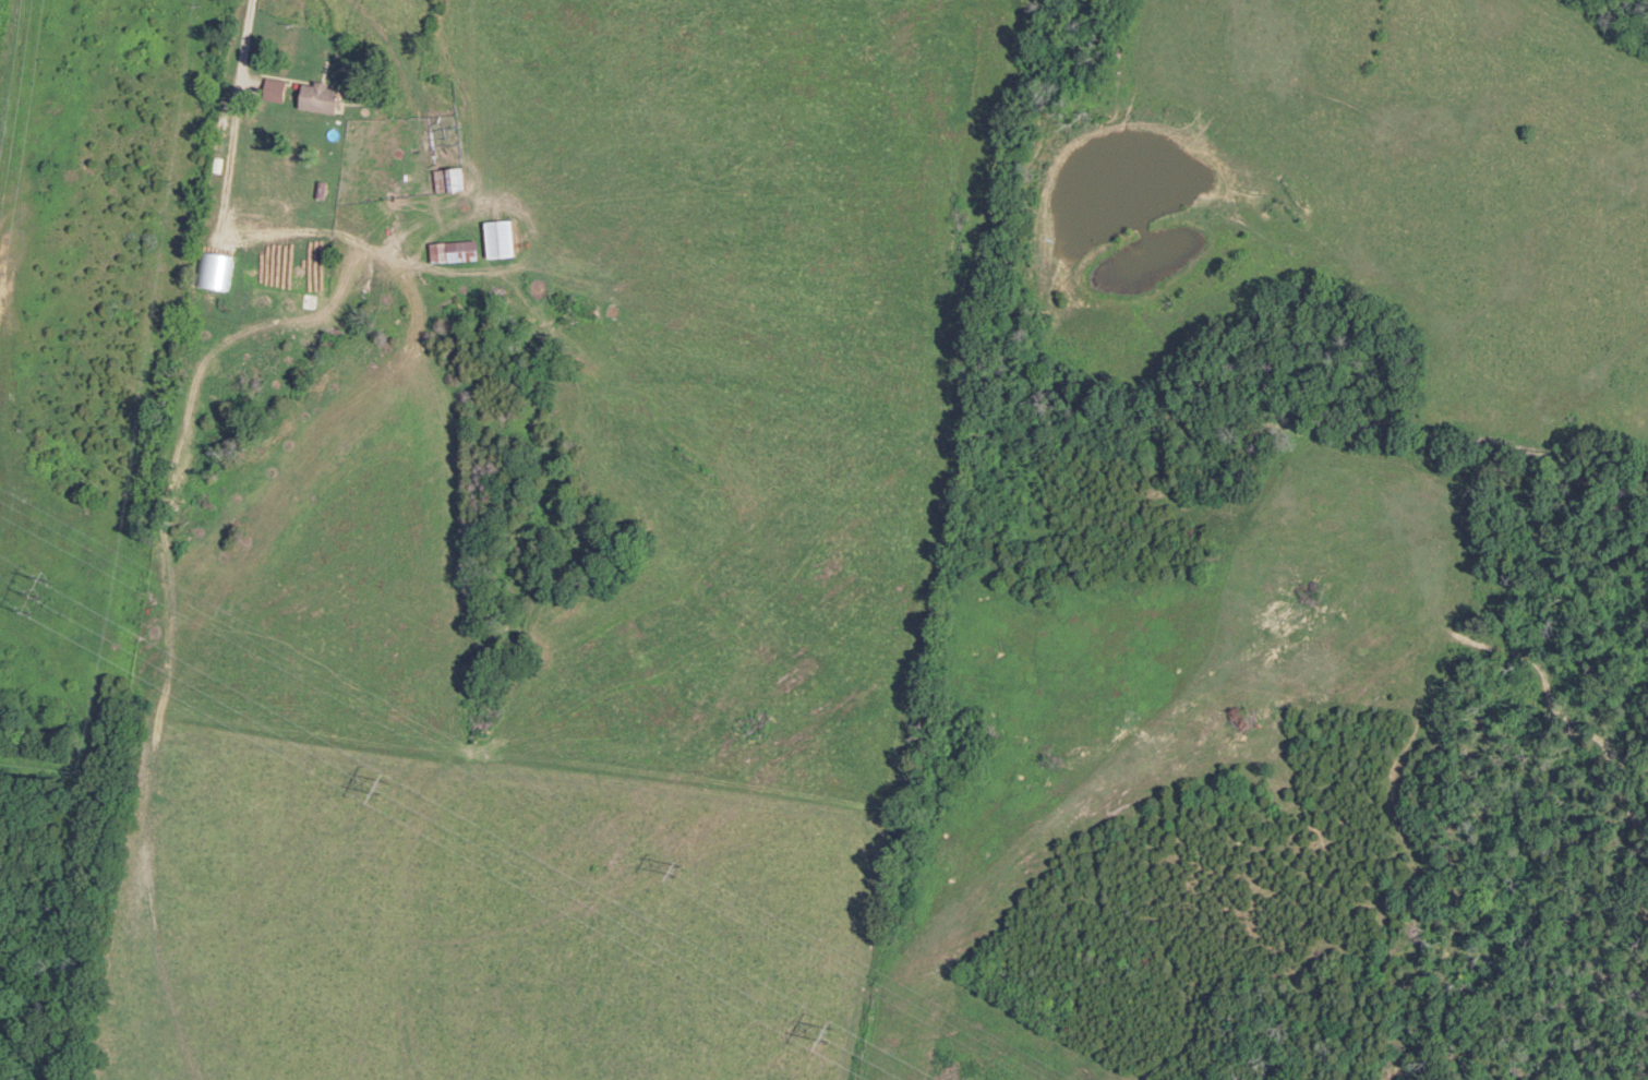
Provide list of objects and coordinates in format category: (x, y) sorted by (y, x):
building: (277, 88)
building: (323, 97)
building: (450, 179)
building: (502, 237)
building: (456, 249)
building: (311, 300)
power tower: (41, 596)
power tower: (382, 784)
power tower: (828, 1032)

